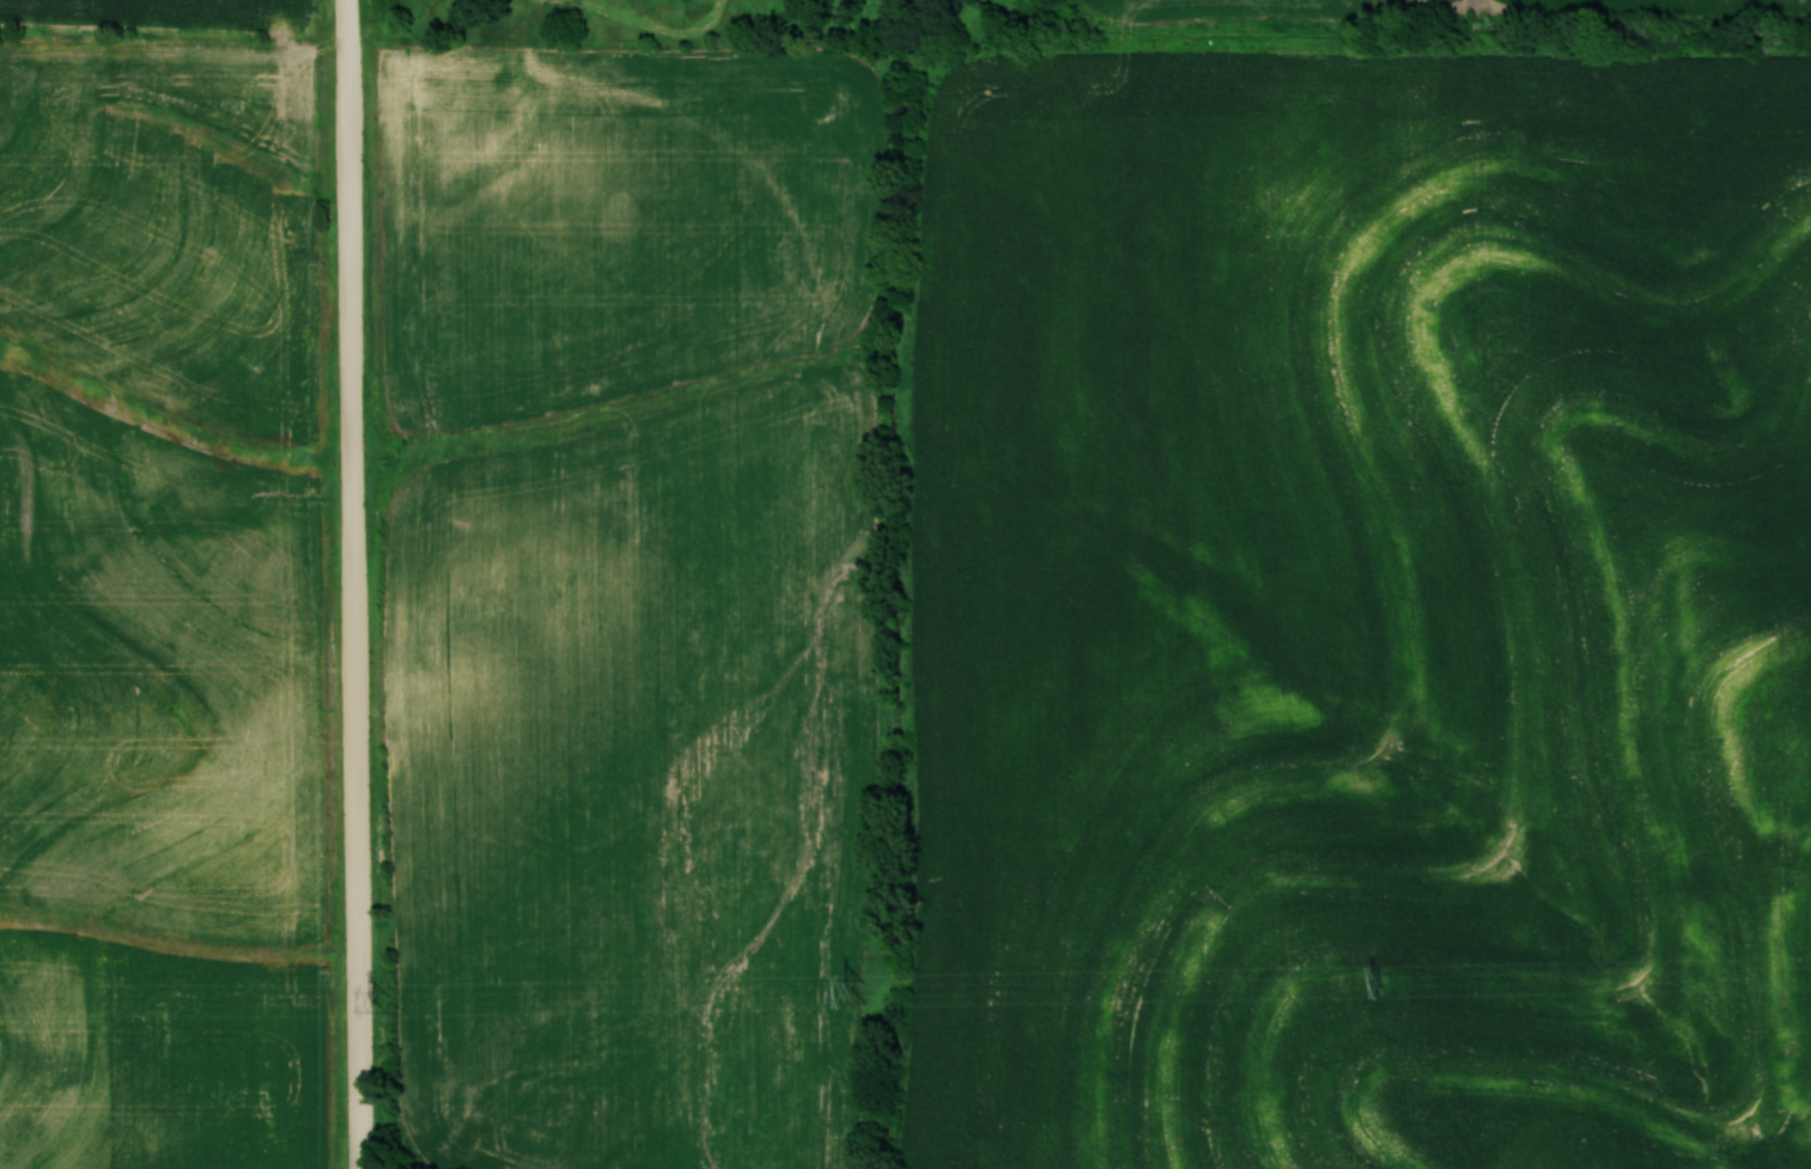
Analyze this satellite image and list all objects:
road: (358, 584)
power tower: (1382, 982)
power tower: (863, 993)
power tower: (384, 1001)

